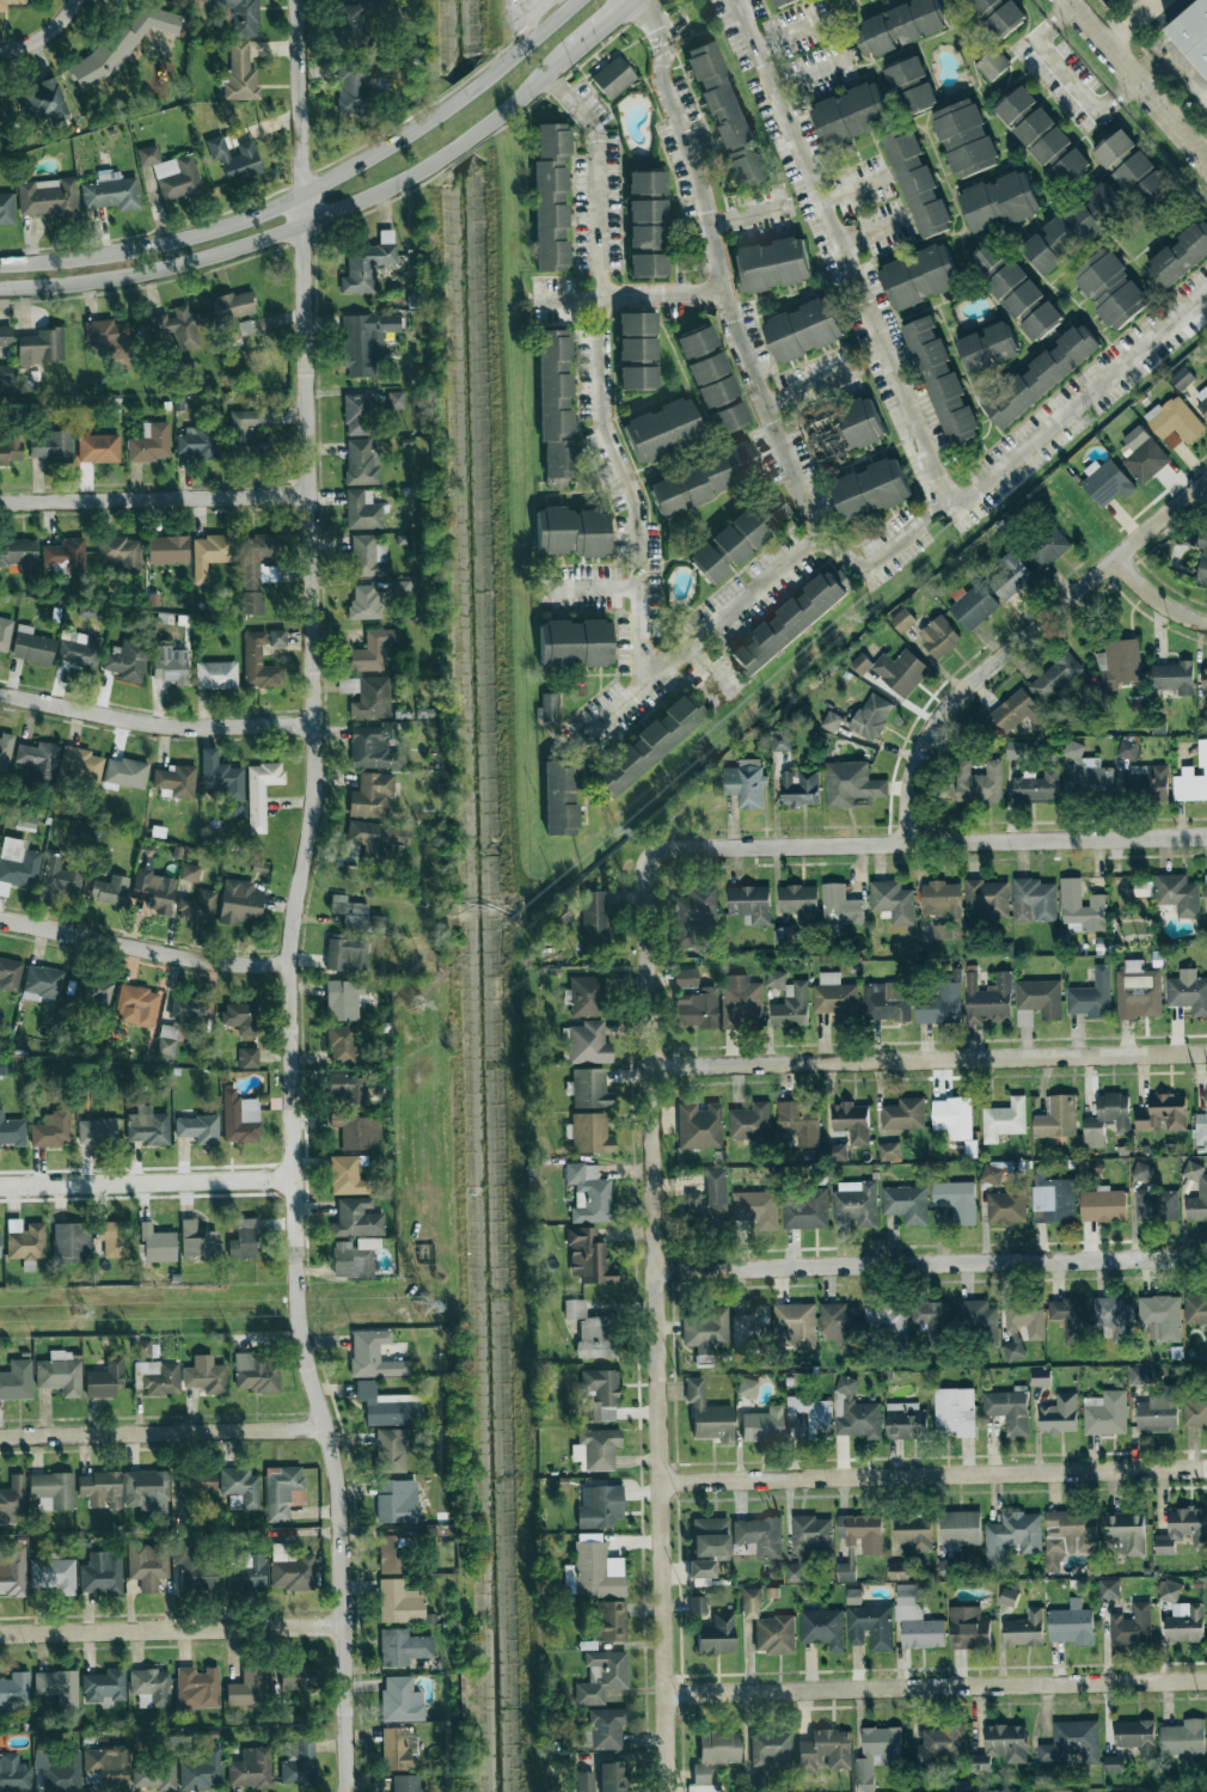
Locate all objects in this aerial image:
building: (868, 1)
building: (782, 2)
building: (2, 7)
building: (982, 7)
building: (357, 12)
building: (241, 16)
road: (525, 16)
building: (1005, 20)
road: (1135, 24)
road: (608, 25)
building: (899, 26)
road: (538, 30)
road: (789, 33)
building: (1193, 33)
road: (44, 35)
river: (460, 36)
building: (121, 44)
building: (992, 65)
road: (1062, 72)
building: (240, 73)
road: (808, 74)
building: (612, 78)
road: (543, 79)
road: (1136, 82)
road: (476, 85)
building: (912, 85)
building: (351, 86)
building: (42, 100)
road: (1203, 103)
building: (1016, 105)
road: (672, 110)
building: (724, 112)
building: (851, 115)
river: (461, 120)
road: (478, 133)
building: (1043, 137)
building: (964, 139)
building: (1115, 149)
building: (234, 159)
building: (1068, 169)
building: (171, 173)
building: (1142, 181)
building: (647, 182)
building: (917, 183)
road: (851, 190)
building: (111, 191)
building: (550, 196)
building: (48, 197)
road: (796, 200)
building: (999, 203)
building: (1104, 203)
building: (6, 208)
road: (745, 216)
road: (237, 221)
building: (1084, 221)
building: (647, 224)
road: (869, 233)
building: (1052, 245)
road: (232, 249)
road: (837, 253)
building: (1180, 256)
building: (367, 263)
building: (648, 264)
building: (772, 265)
building: (919, 277)
building: (1015, 289)
building: (1110, 289)
road: (662, 293)
road: (565, 301)
building: (234, 314)
building: (179, 326)
building: (803, 330)
building: (105, 335)
building: (5, 336)
building: (366, 341)
building: (41, 347)
building: (987, 348)
building: (637, 350)
building: (6, 373)
road: (601, 373)
building: (1042, 375)
building: (712, 379)
building: (1182, 379)
building: (941, 381)
road: (804, 385)
building: (1201, 399)
building: (394, 400)
building: (556, 409)
building: (356, 414)
power tower: (1087, 416)
building: (1175, 422)
building: (662, 429)
building: (239, 430)
building: (845, 430)
building: (200, 440)
building: (149, 442)
building: (51, 446)
building: (11, 448)
building: (98, 448)
building: (1141, 454)
building: (361, 461)
building: (700, 479)
building: (1105, 482)
building: (870, 490)
road: (155, 497)
building: (362, 509)
building: (770, 512)
building: (571, 531)
building: (728, 546)
building: (167, 549)
building: (1046, 549)
road: (886, 550)
building: (121, 552)
building: (18, 553)
building: (210, 553)
building: (66, 555)
building: (367, 556)
building: (256, 569)
building: (1202, 571)
building: (1010, 576)
building: (402, 587)
road: (588, 587)
road: (1154, 600)
building: (366, 603)
building: (974, 606)
building: (87, 611)
power tower: (858, 617)
building: (792, 620)
building: (902, 620)
building: (5, 635)
building: (277, 637)
building: (938, 637)
road: (1019, 640)
road: (693, 642)
building: (574, 643)
building: (31, 646)
building: (79, 650)
building: (372, 650)
building: (127, 659)
building: (1119, 662)
building: (258, 663)
building: (171, 665)
building: (894, 671)
road: (706, 672)
building: (216, 674)
building: (1174, 677)
building: (1054, 678)
building: (1203, 684)
building: (373, 697)
building: (547, 708)
building: (1019, 712)
building: (871, 716)
building: (831, 722)
road: (155, 723)
building: (780, 741)
building: (648, 745)
building: (373, 748)
building: (1127, 750)
building: (5, 751)
building: (1015, 751)
building: (39, 760)
building: (80, 764)
building: (1085, 772)
building: (124, 773)
building: (1191, 779)
building: (223, 782)
building: (1147, 782)
building: (745, 783)
building: (978, 783)
building: (851, 785)
building: (1036, 787)
building: (799, 789)
building: (261, 793)
building: (370, 795)
building: (560, 797)
building: (25, 822)
power tower: (611, 828)
building: (376, 838)
road: (929, 843)
building: (17, 863)
building: (189, 871)
building: (61, 875)
building: (1141, 888)
building: (110, 889)
building: (154, 891)
building: (1205, 891)
road: (296, 892)
building: (1177, 894)
building: (941, 899)
building: (987, 899)
building: (1034, 900)
building: (1071, 900)
building: (893, 901)
building: (240, 903)
building: (799, 903)
building: (750, 904)
building: (197, 906)
building: (840, 906)
building: (692, 912)
building: (355, 915)
building: (558, 915)
building: (594, 917)
building: (942, 931)
building: (783, 935)
road: (142, 947)
building: (347, 953)
building: (10, 974)
building: (685, 978)
river: (480, 979)
building: (42, 983)
building: (91, 991)
building: (1138, 991)
building: (1188, 992)
building: (586, 995)
building: (1091, 996)
building: (835, 998)
building: (1040, 998)
building: (343, 999)
building: (740, 999)
building: (988, 999)
power tower: (411, 1001)
building: (789, 1001)
building: (886, 1002)
building: (135, 1004)
building: (939, 1005)
building: (697, 1009)
building: (240, 1017)
building: (179, 1022)
building: (344, 1042)
building: (588, 1042)
building: (247, 1057)
road: (927, 1060)
building: (348, 1088)
building: (590, 1088)
building: (1206, 1096)
building: (1163, 1113)
building: (903, 1114)
building: (239, 1117)
building: (952, 1118)
building: (1056, 1118)
building: (1107, 1119)
building: (798, 1120)
building: (1004, 1120)
building: (749, 1123)
building: (851, 1123)
building: (147, 1125)
building: (699, 1126)
building: (197, 1129)
building: (1201, 1129)
building: (51, 1130)
building: (12, 1131)
building: (97, 1131)
building: (356, 1131)
building: (590, 1133)
building: (889, 1151)
building: (835, 1152)
building: (1141, 1170)
building: (347, 1175)
building: (992, 1175)
road: (146, 1182)
building: (1202, 1187)
building: (589, 1193)
building: (709, 1198)
building: (957, 1200)
building: (1054, 1201)
building: (856, 1203)
building: (906, 1204)
building: (753, 1205)
building: (1102, 1205)
building: (1156, 1205)
building: (1006, 1206)
building: (807, 1211)
building: (357, 1218)
building: (115, 1239)
building: (24, 1240)
building: (244, 1240)
building: (198, 1241)
building: (69, 1242)
building: (157, 1244)
building: (0, 1253)
building: (354, 1256)
building: (588, 1256)
road: (932, 1265)
power tower: (417, 1305)
building: (1195, 1311)
power tower: (67, 1313)
building: (932, 1315)
building: (1160, 1317)
building: (978, 1319)
building: (1114, 1319)
building: (887, 1320)
building: (1070, 1320)
road: (657, 1322)
building: (839, 1325)
building: (1022, 1325)
building: (795, 1327)
building: (752, 1328)
building: (589, 1329)
building: (705, 1329)
building: (142, 1347)
building: (373, 1354)
building: (256, 1372)
building: (60, 1374)
building: (204, 1375)
building: (1140, 1376)
building: (105, 1377)
building: (1040, 1377)
building: (17, 1380)
building: (747, 1387)
building: (599, 1395)
building: (387, 1406)
building: (1009, 1411)
building: (955, 1412)
building: (1159, 1412)
building: (1195, 1412)
building: (1105, 1413)
building: (707, 1414)
building: (1059, 1415)
building: (813, 1417)
building: (905, 1421)
building: (761, 1424)
road: (163, 1431)
building: (596, 1448)
building: (392, 1450)
road: (935, 1475)
building: (197, 1482)
building: (146, 1486)
building: (240, 1487)
building: (100, 1488)
building: (53, 1490)
building: (283, 1491)
building: (12, 1499)
building: (397, 1500)
building: (600, 1506)
building: (960, 1528)
building: (1183, 1530)
building: (1127, 1531)
building: (914, 1533)
building: (862, 1534)
building: (810, 1535)
building: (711, 1536)
building: (759, 1536)
building: (1068, 1536)
building: (1012, 1537)
building: (391, 1552)
building: (147, 1566)
building: (192, 1566)
building: (292, 1568)
building: (598, 1568)
building: (701, 1568)
building: (12, 1571)
building: (897, 1571)
building: (845, 1572)
building: (102, 1573)
building: (249, 1573)
building: (794, 1573)
building: (54, 1574)
building: (1108, 1589)
building: (1169, 1591)
building: (853, 1597)
building: (1009, 1597)
building: (399, 1602)
building: (750, 1602)
building: (697, 1604)
building: (612, 1621)
building: (915, 1621)
building: (1184, 1623)
building: (1071, 1625)
building: (1132, 1626)
building: (870, 1627)
building: (822, 1628)
building: (968, 1628)
road: (172, 1629)
building: (1024, 1629)
building: (716, 1634)
building: (774, 1634)
building: (403, 1646)
building: (296, 1676)
building: (601, 1676)
road: (937, 1686)
building: (57, 1687)
building: (104, 1687)
building: (151, 1687)
building: (197, 1687)
building: (247, 1687)
building: (14, 1690)
building: (400, 1700)
building: (606, 1727)
building: (1136, 1737)
building: (1183, 1738)
building: (1071, 1743)
building: (941, 1744)
building: (1000, 1747)
building: (399, 1749)
building: (770, 1750)
building: (823, 1750)
building: (715, 1753)
building: (876, 1755)
building: (300, 1761)
building: (1113, 1765)
building: (105, 1766)
building: (251, 1768)
building: (59, 1769)
building: (203, 1770)
building: (154, 1773)
building: (14, 1774)
building: (612, 1776)
building: (584, 1781)
building: (405, 1784)
building: (758, 1784)
road: (348, 1786)

